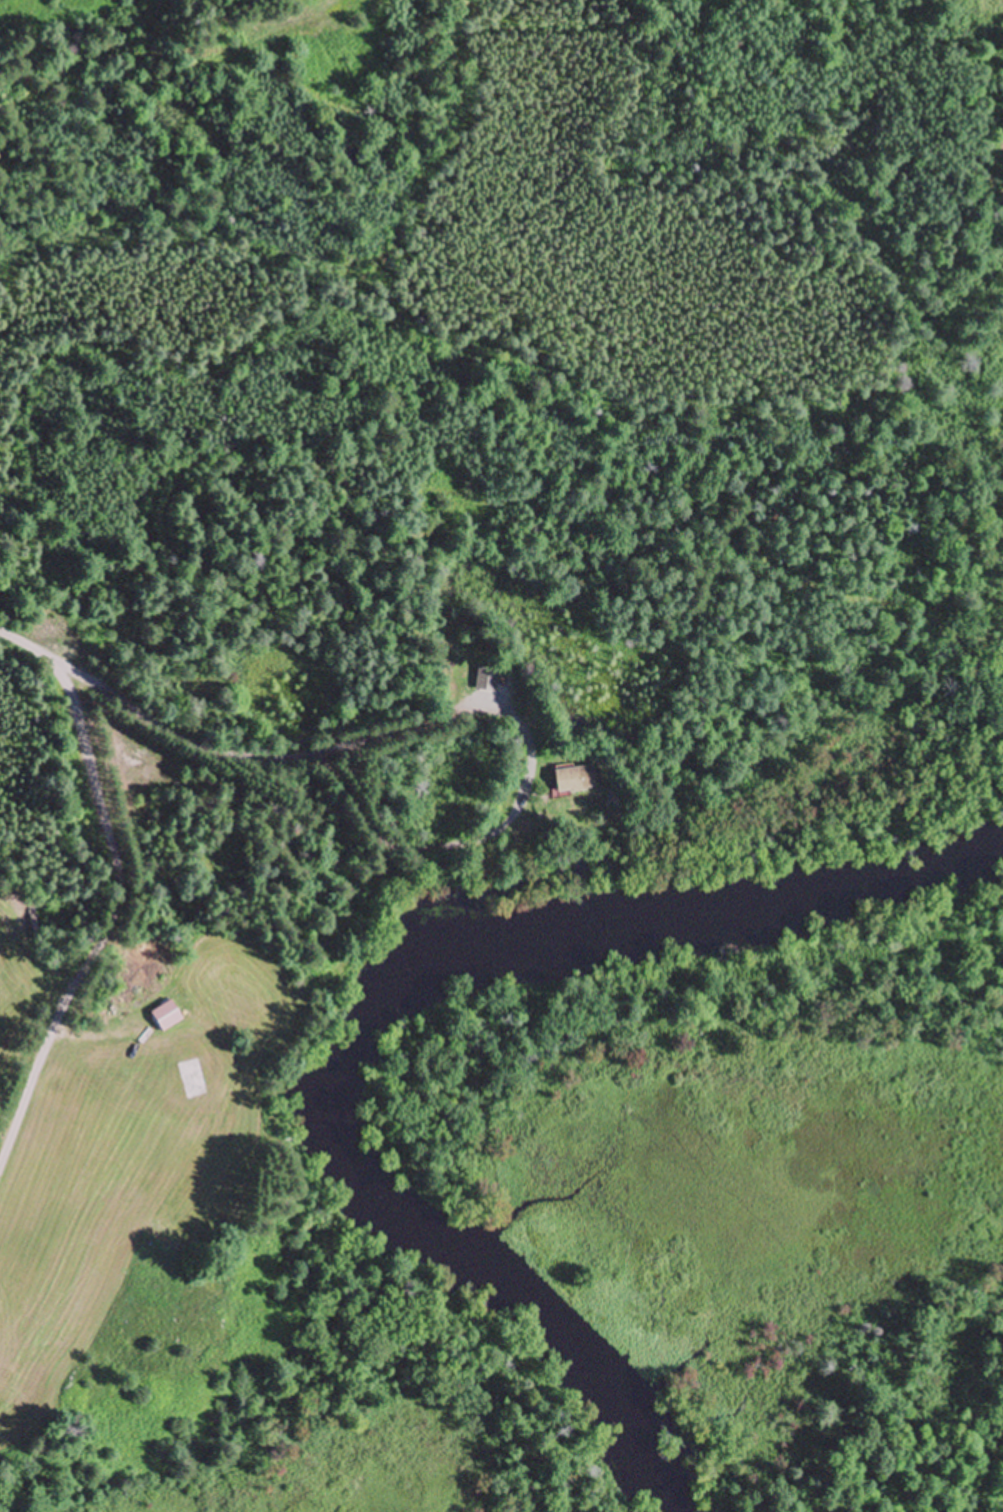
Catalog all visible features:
building: (487, 679)
building: (575, 781)
road: (125, 889)
river: (383, 1001)
building: (167, 1017)
building: (193, 1080)

